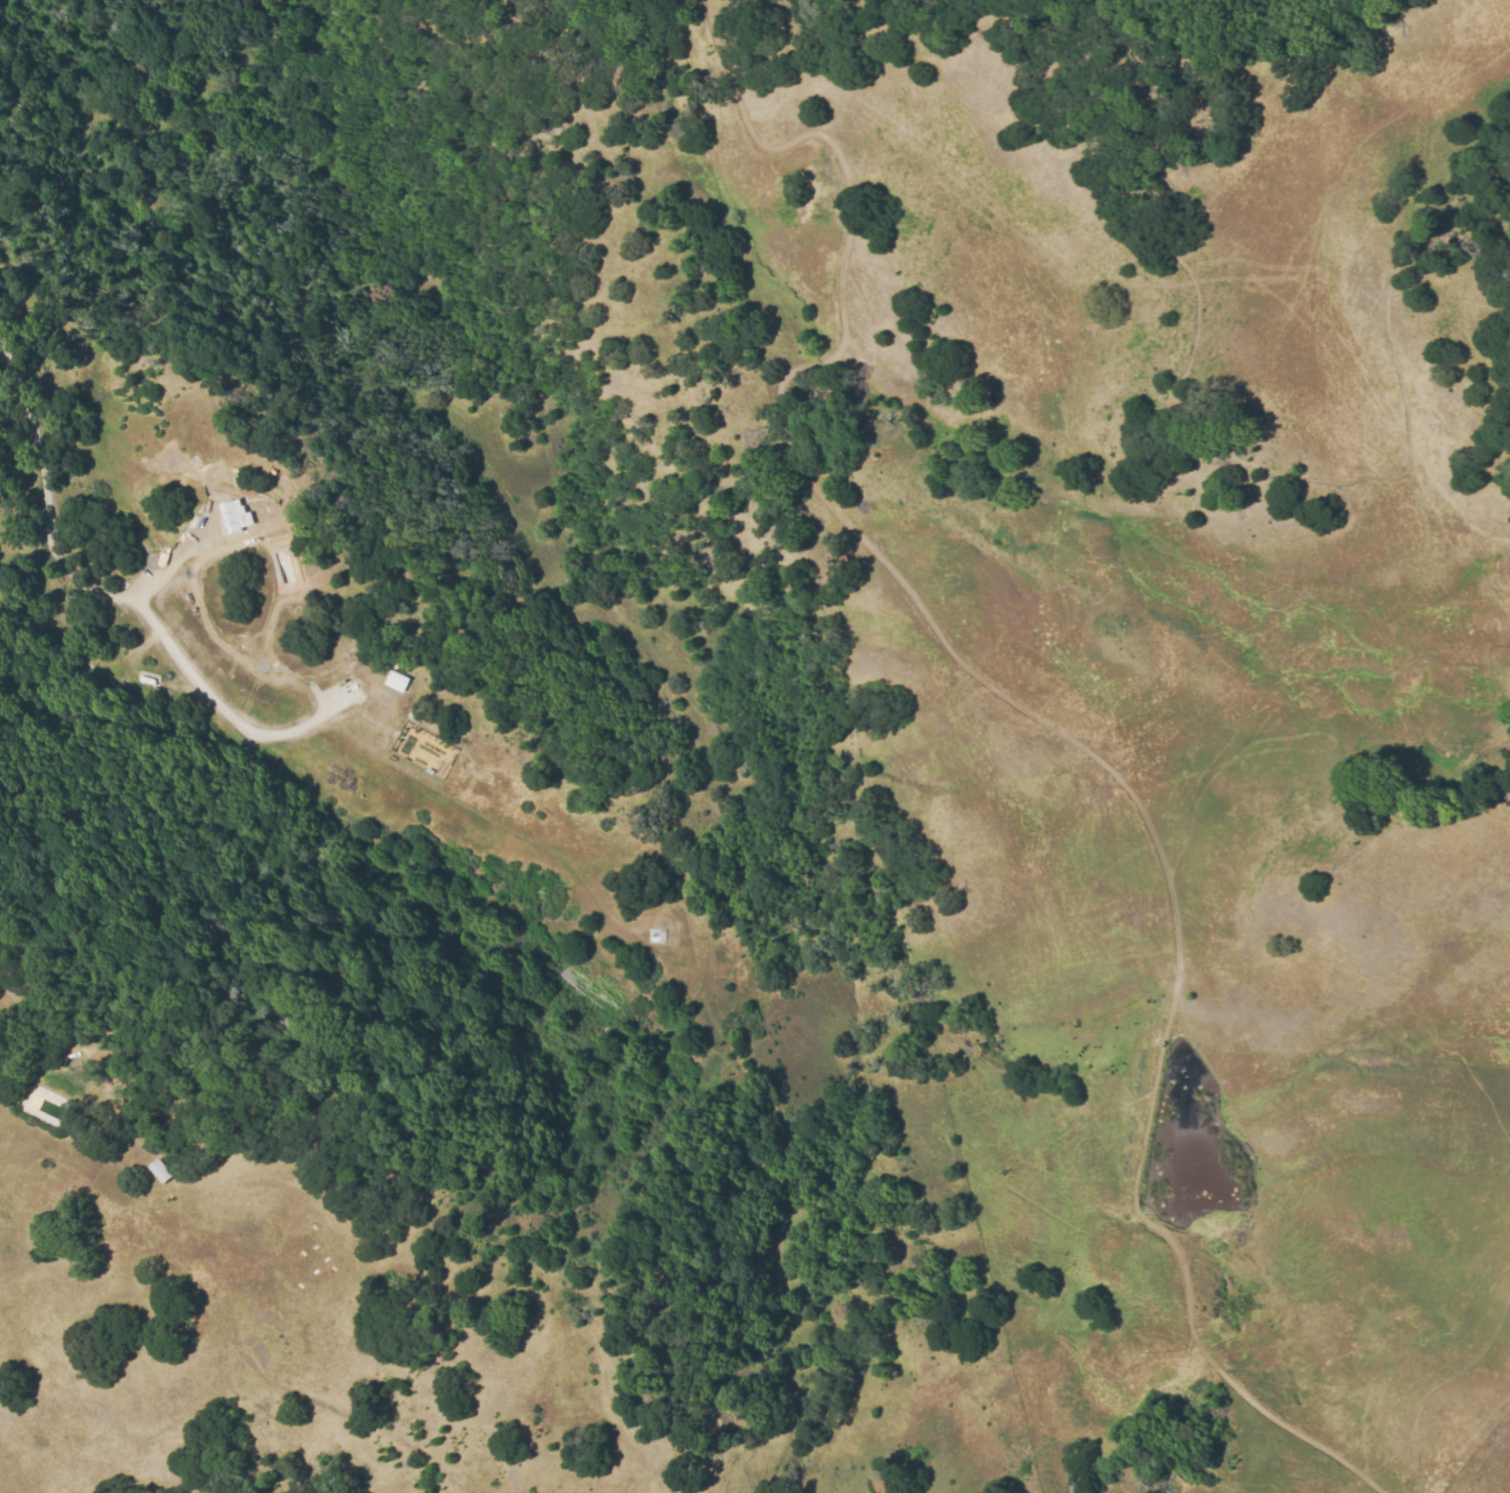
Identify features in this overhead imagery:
road: (215, 500)
road: (51, 548)
building: (160, 1170)

